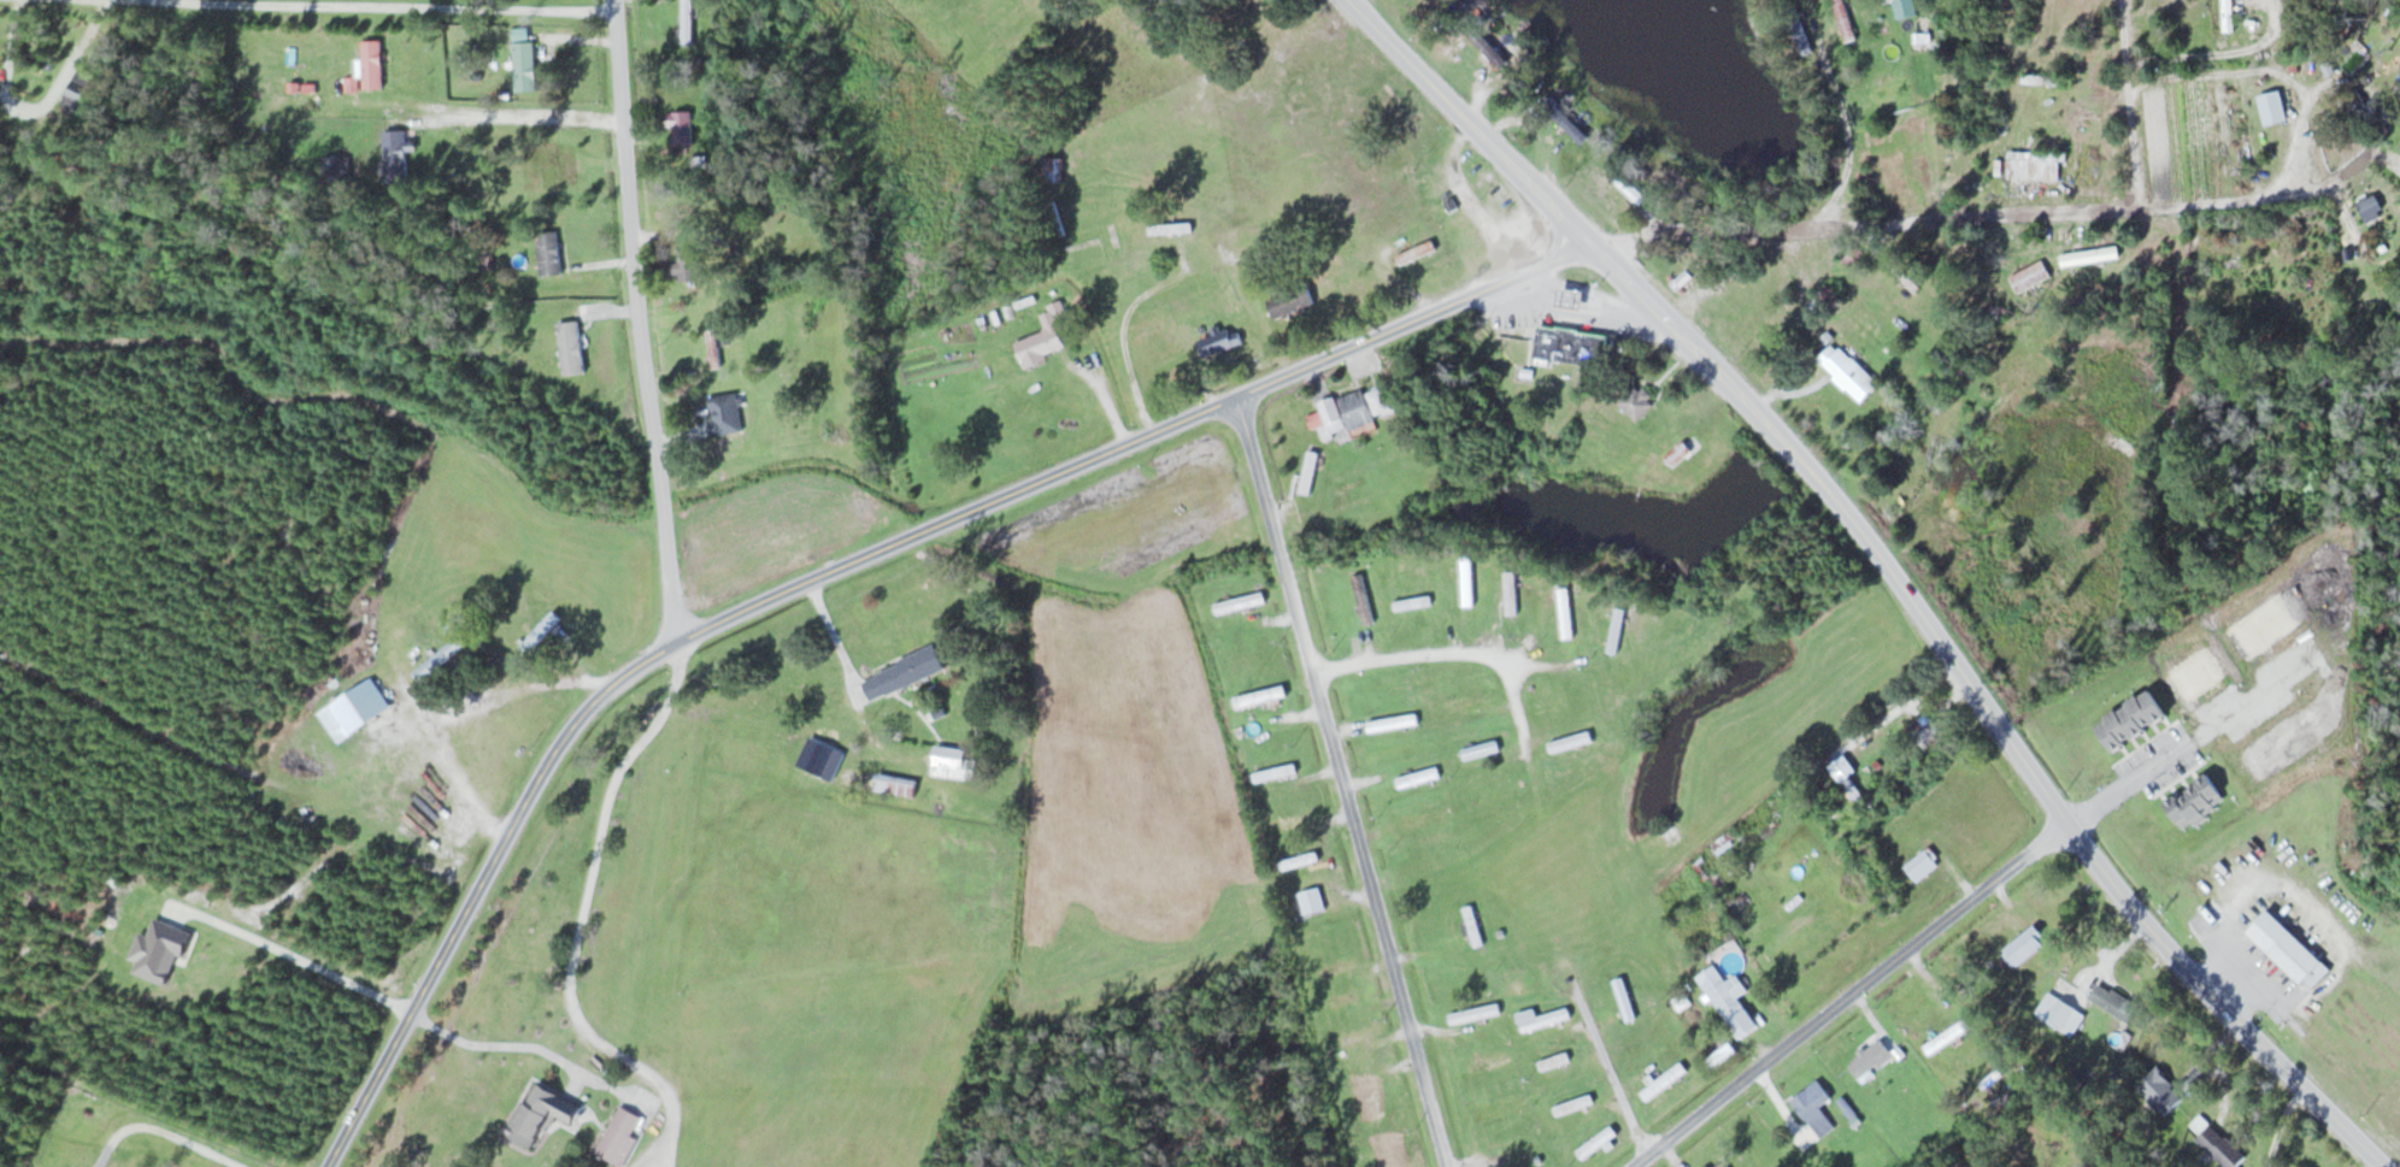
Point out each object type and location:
building: (1167, 4)
road: (442, 6)
building: (1904, 7)
building: (2228, 14)
building: (687, 22)
building: (1247, 24)
building: (1478, 40)
building: (372, 63)
building: (524, 65)
building: (77, 92)
road: (2127, 100)
building: (2272, 106)
road: (1473, 119)
building: (680, 129)
building: (1573, 129)
building: (394, 157)
building: (2036, 166)
building: (336, 167)
building: (1051, 169)
building: (1629, 187)
building: (2370, 206)
road: (1965, 210)
building: (1170, 228)
building: (548, 253)
building: (2090, 257)
building: (684, 266)
building: (2239, 267)
building: (2030, 276)
building: (1680, 277)
building: (1572, 299)
building: (1290, 300)
road: (641, 319)
building: (1042, 338)
building: (1219, 341)
building: (1572, 346)
building: (570, 348)
building: (713, 348)
crop: (928, 360)
road: (230, 361)
building: (1849, 372)
building: (1635, 400)
building: (728, 406)
building: (1352, 411)
building: (1680, 456)
building: (1308, 472)
crop: (1125, 521)
road: (841, 566)
building: (1467, 579)
building: (1511, 591)
building: (1363, 597)
building: (1240, 601)
building: (1412, 602)
building: (1565, 611)
building: (1617, 629)
road: (1440, 652)
building: (902, 672)
road: (572, 683)
building: (1260, 695)
building: (1470, 701)
road: (1989, 706)
road: (1520, 709)
building: (1393, 721)
building: (1925, 729)
building: (1570, 739)
building: (1481, 748)
building: (952, 761)
road: (225, 765)
building: (1275, 771)
road: (452, 773)
building: (1418, 777)
building: (877, 780)
road: (1342, 782)
crop: (1752, 818)
building: (1422, 819)
building: (1287, 823)
building: (1299, 860)
building: (1922, 865)
crop: (1814, 874)
building: (1312, 900)
building: (1472, 925)
building: (2027, 944)
building: (2289, 949)
building: (1337, 967)
building: (1516, 986)
road: (1854, 991)
building: (1624, 998)
building: (1729, 1000)
building: (2114, 1001)
building: (1475, 1013)
building: (2060, 1013)
building: (1542, 1018)
building: (1358, 1035)
building: (1947, 1036)
building: (1871, 1059)
building: (1554, 1060)
building: (1489, 1061)
road: (1608, 1071)
building: (1664, 1080)
building: (2161, 1090)
building: (1366, 1098)
building: (1573, 1103)
building: (1502, 1106)
building: (1813, 1106)
building: (539, 1112)
road: (2282, 1121)
road: (161, 1128)
building: (619, 1134)
building: (1596, 1141)
building: (2222, 1147)
building: (1717, 1163)

